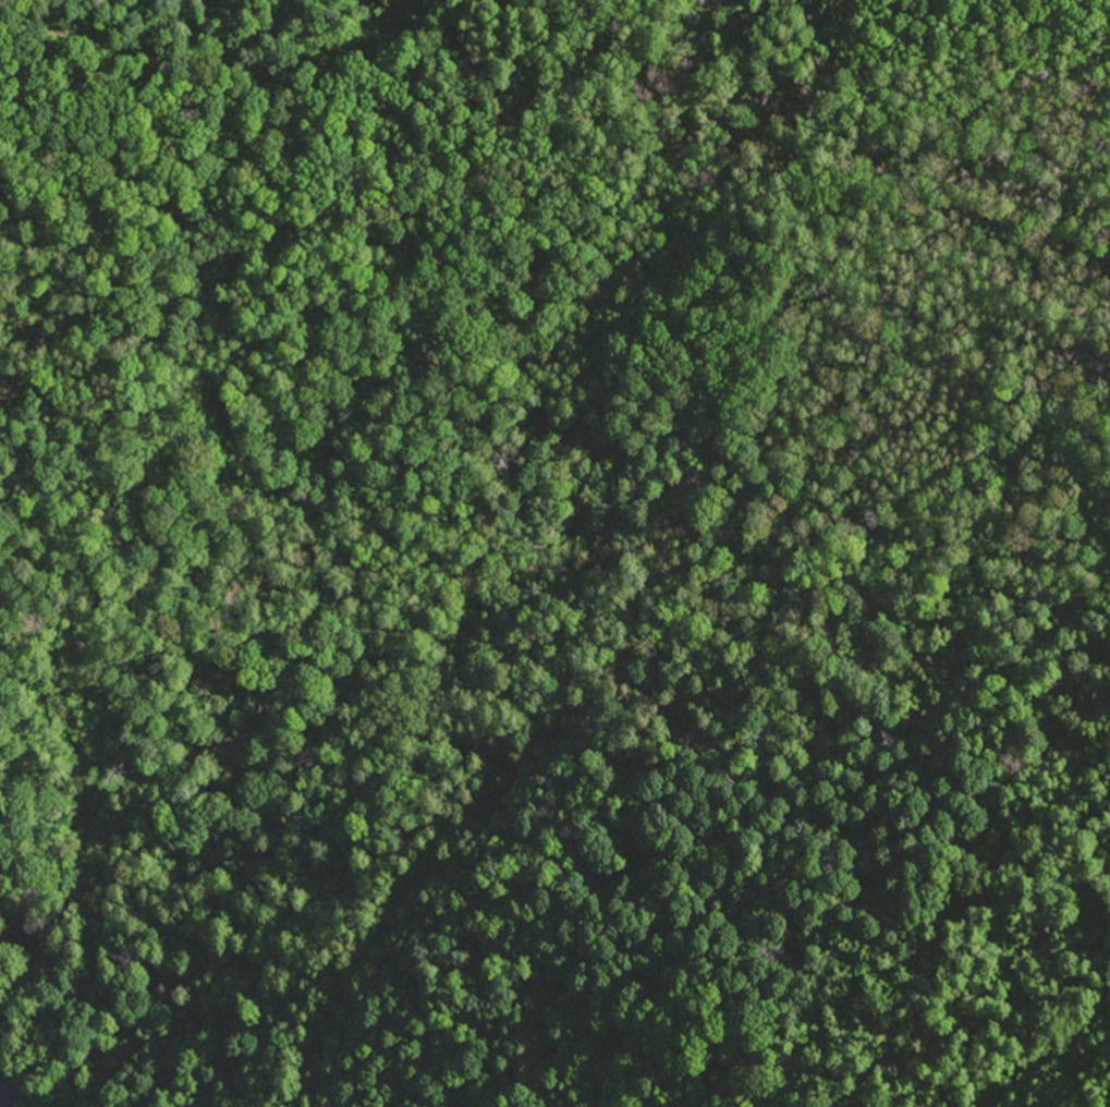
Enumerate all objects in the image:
road: (40, 954)
road: (1, 1069)

